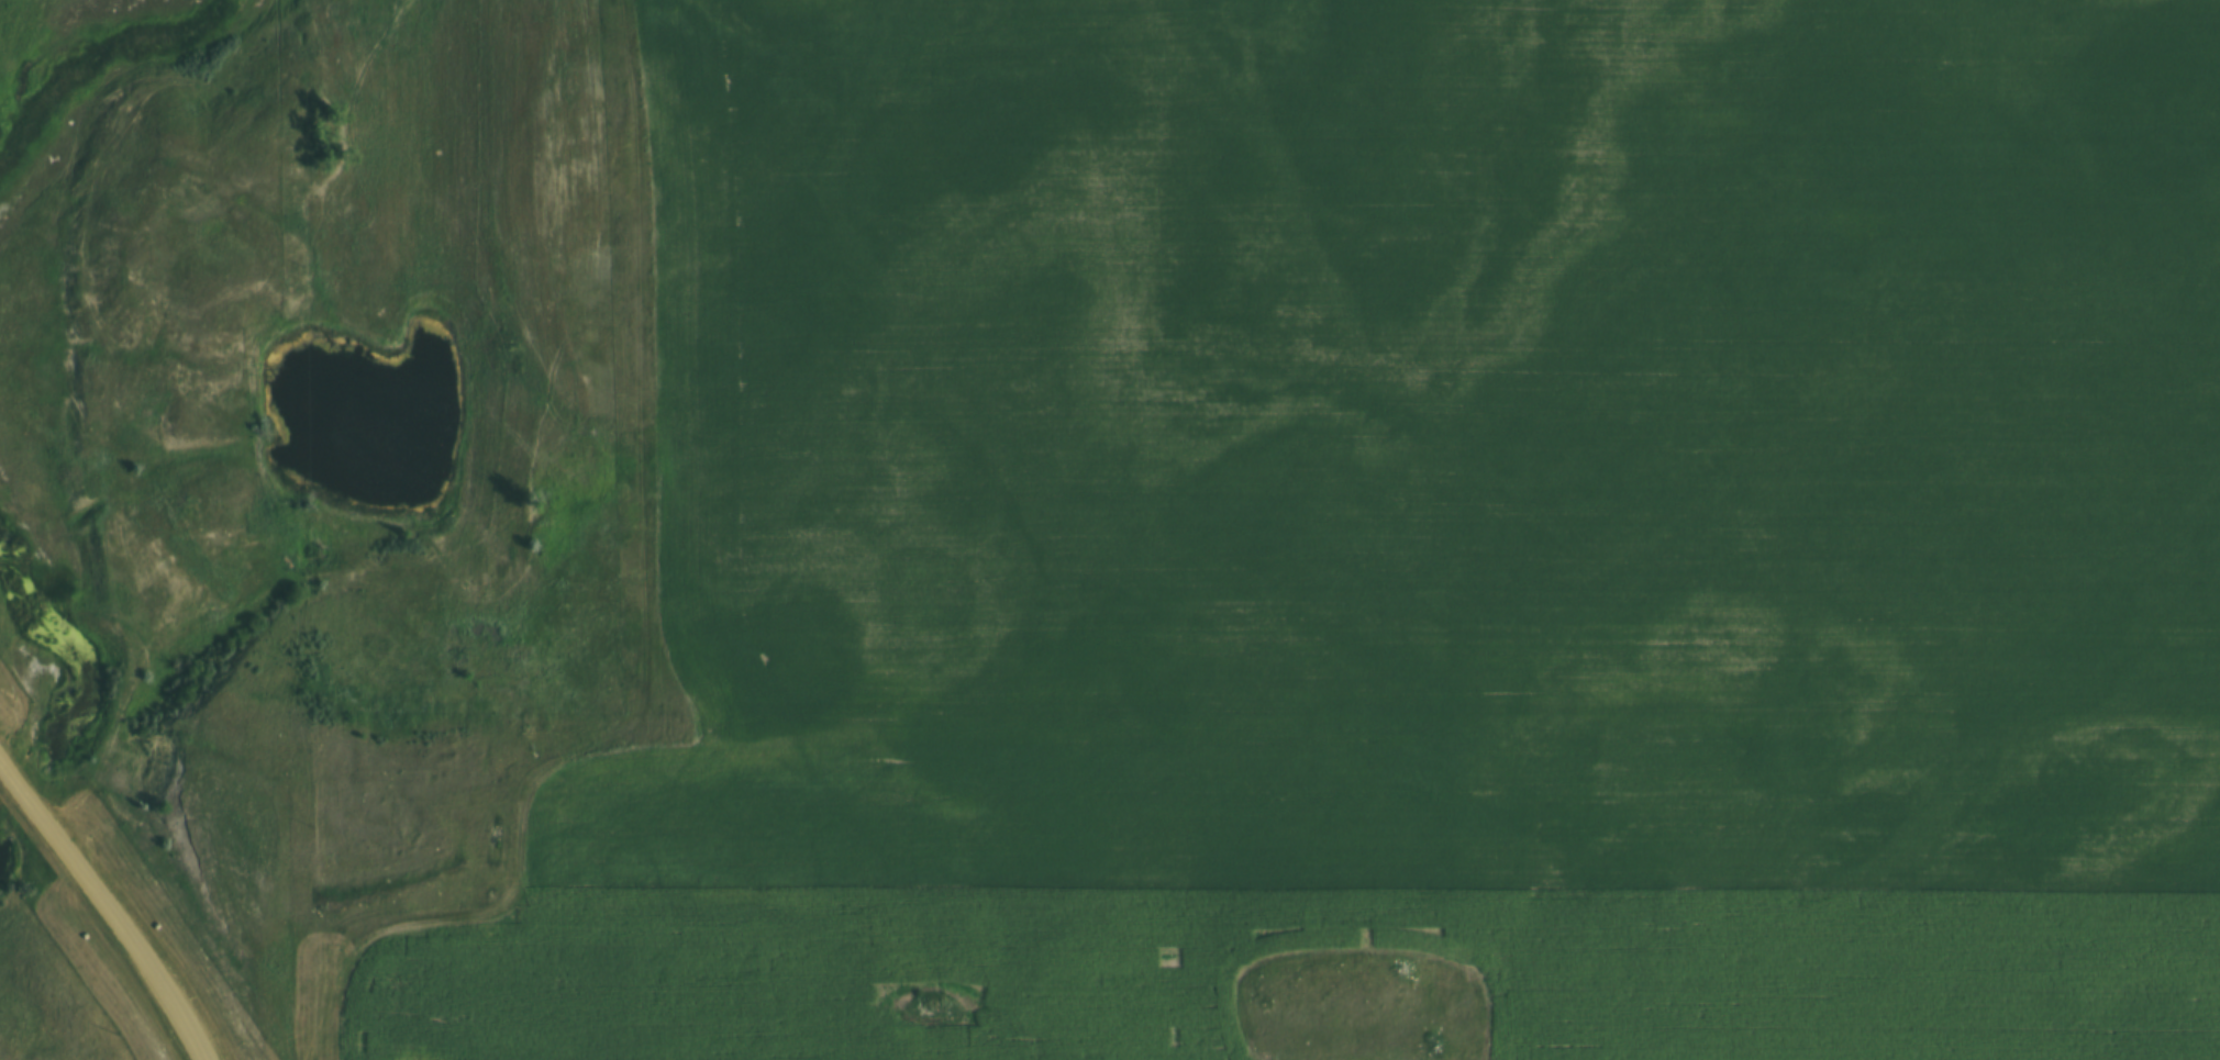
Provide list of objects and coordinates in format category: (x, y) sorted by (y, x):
road: (107, 908)

